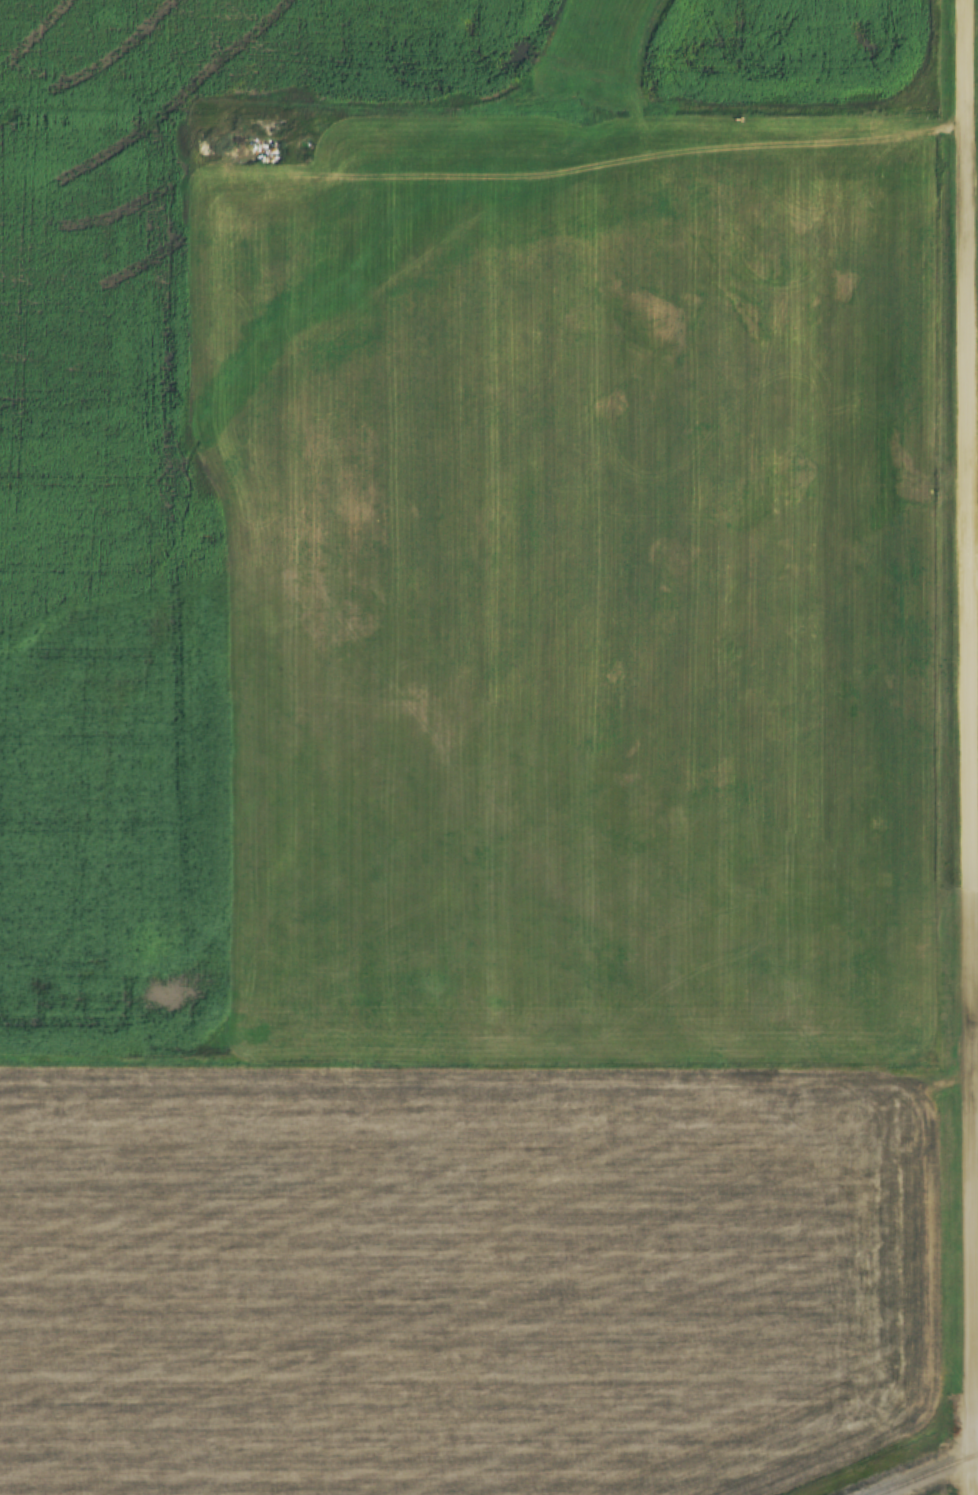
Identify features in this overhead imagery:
road: (975, 747)
railway: (931, 1475)

